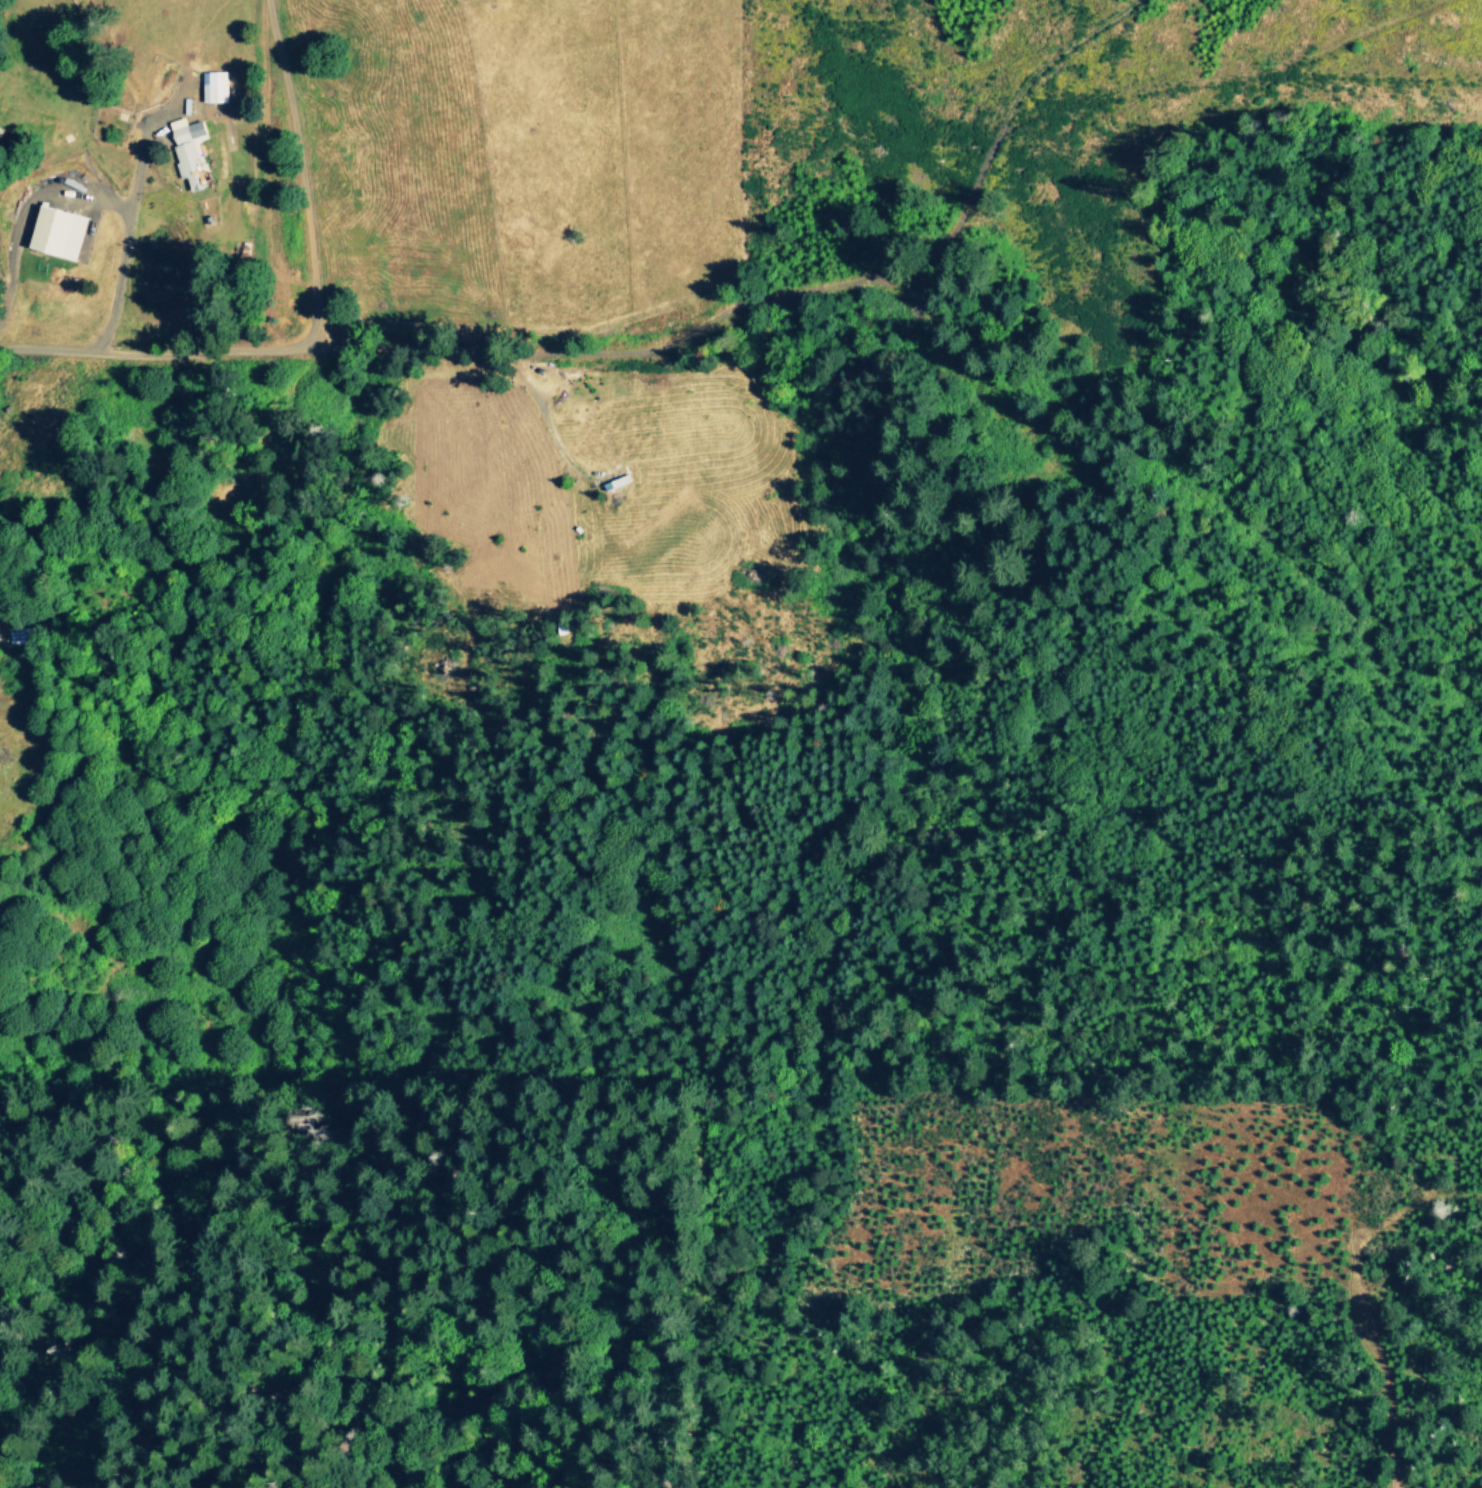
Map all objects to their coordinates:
building: (217, 86)
building: (191, 150)
road: (306, 173)
road: (29, 200)
building: (64, 231)
road: (127, 237)
road: (466, 351)
road: (543, 411)

